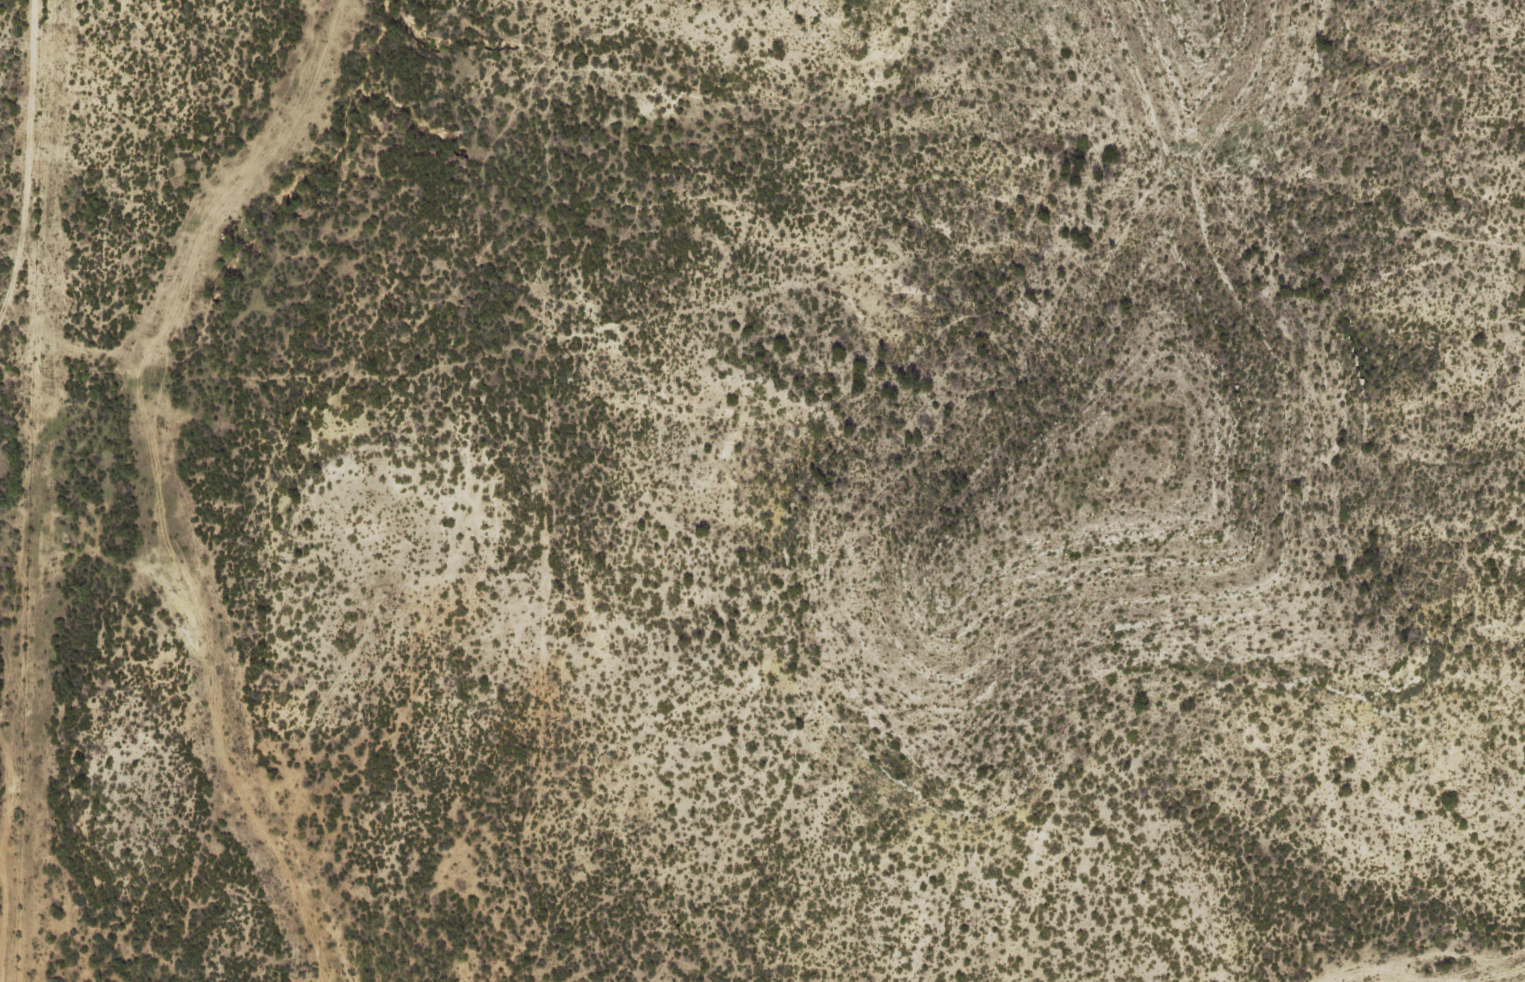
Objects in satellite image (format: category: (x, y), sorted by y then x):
road: (60, 195)
road: (209, 484)
road: (49, 759)

